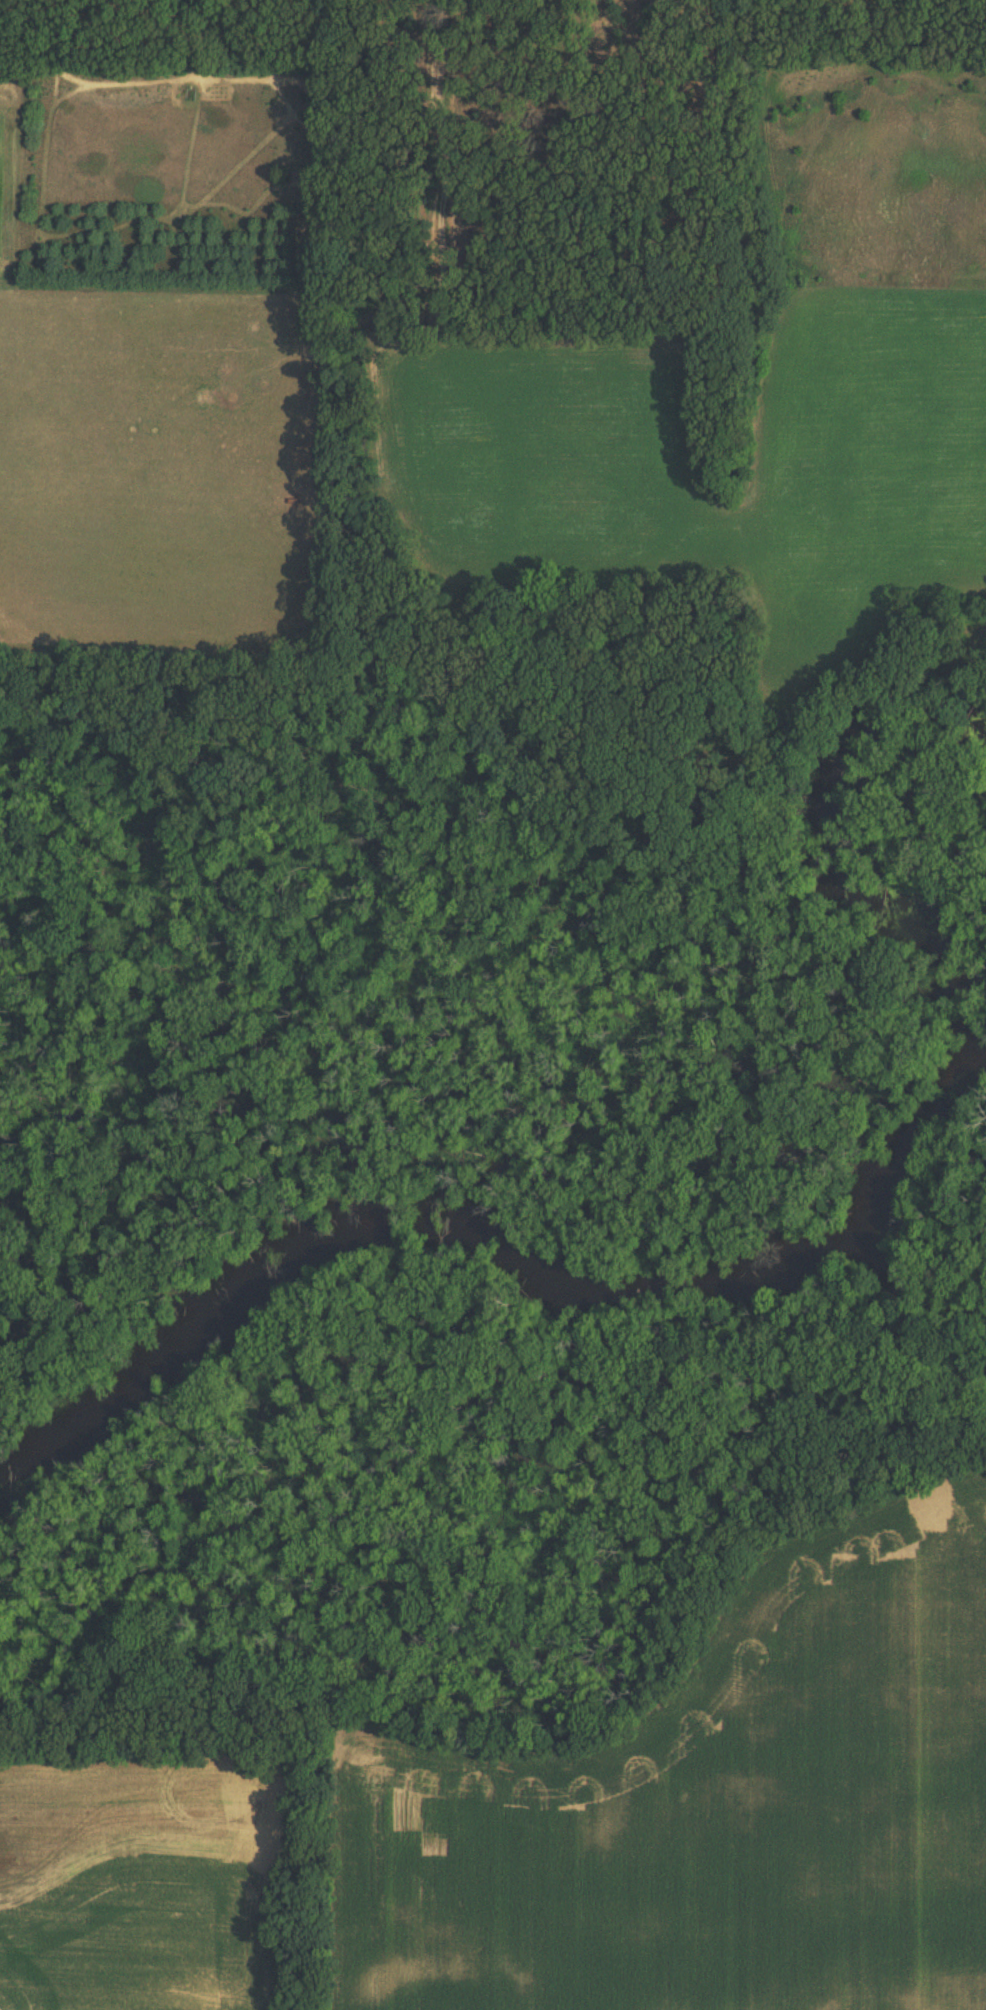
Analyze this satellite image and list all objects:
river: (719, 1280)

